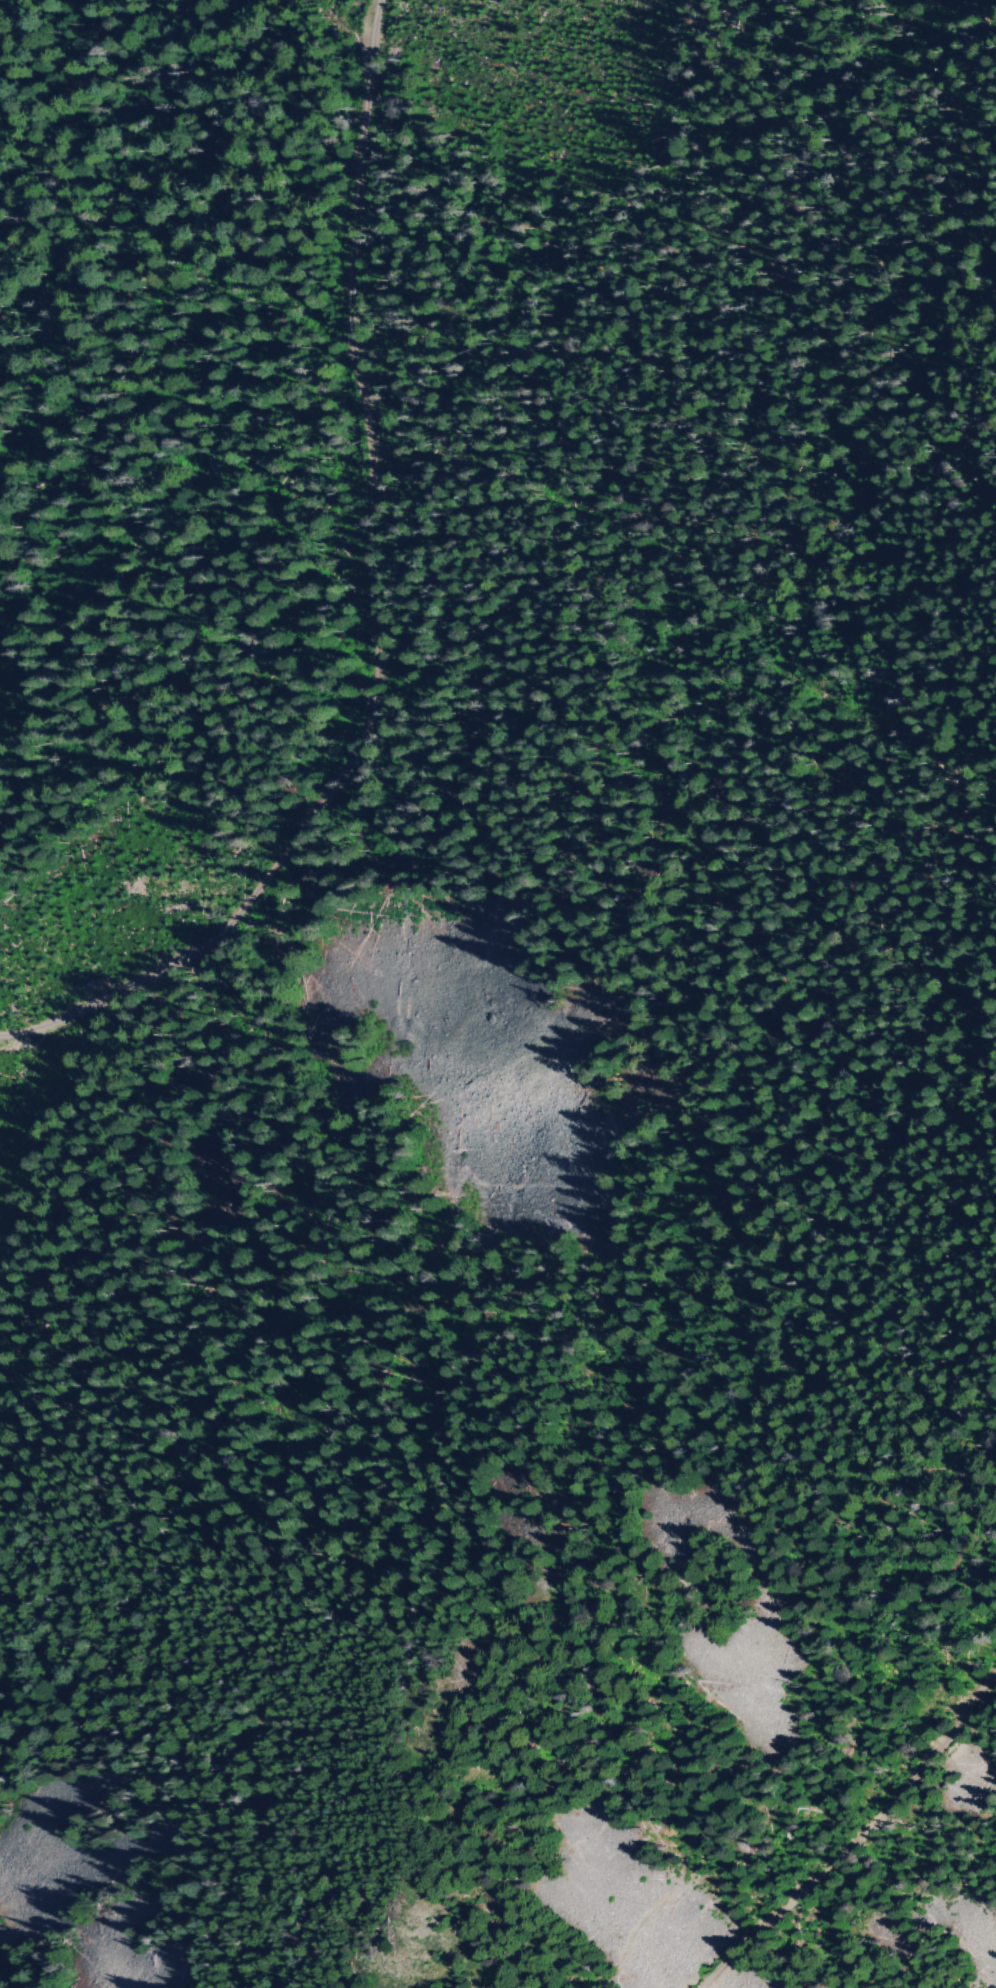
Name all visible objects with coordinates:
road: (375, 608)
road: (803, 1756)
road: (854, 1842)
road: (11, 1960)

